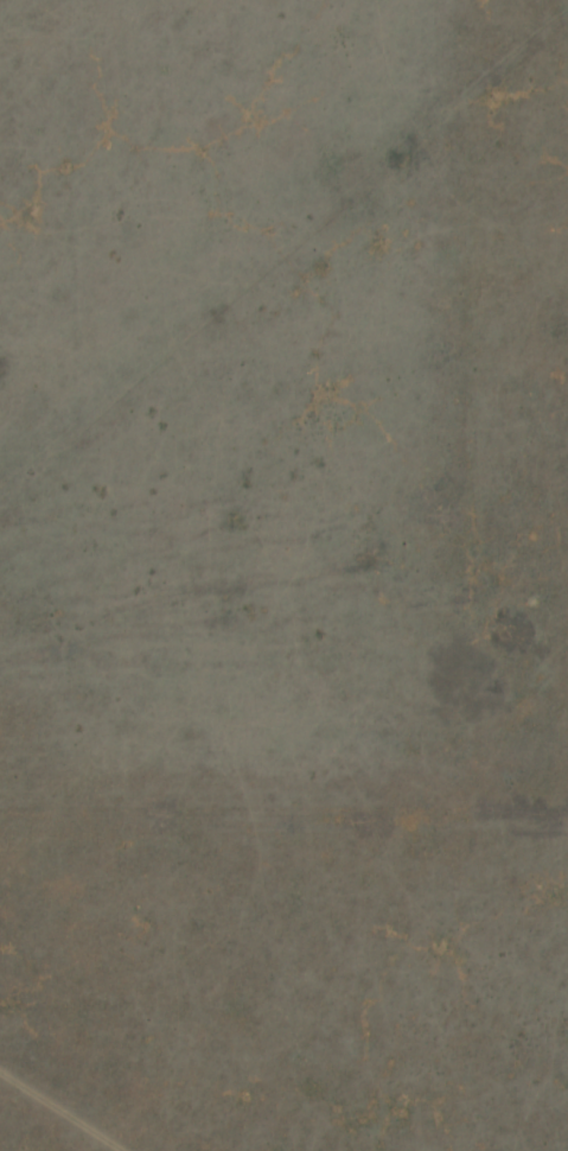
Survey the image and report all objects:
road: (302, 796)
road: (136, 1066)
road: (133, 1107)

